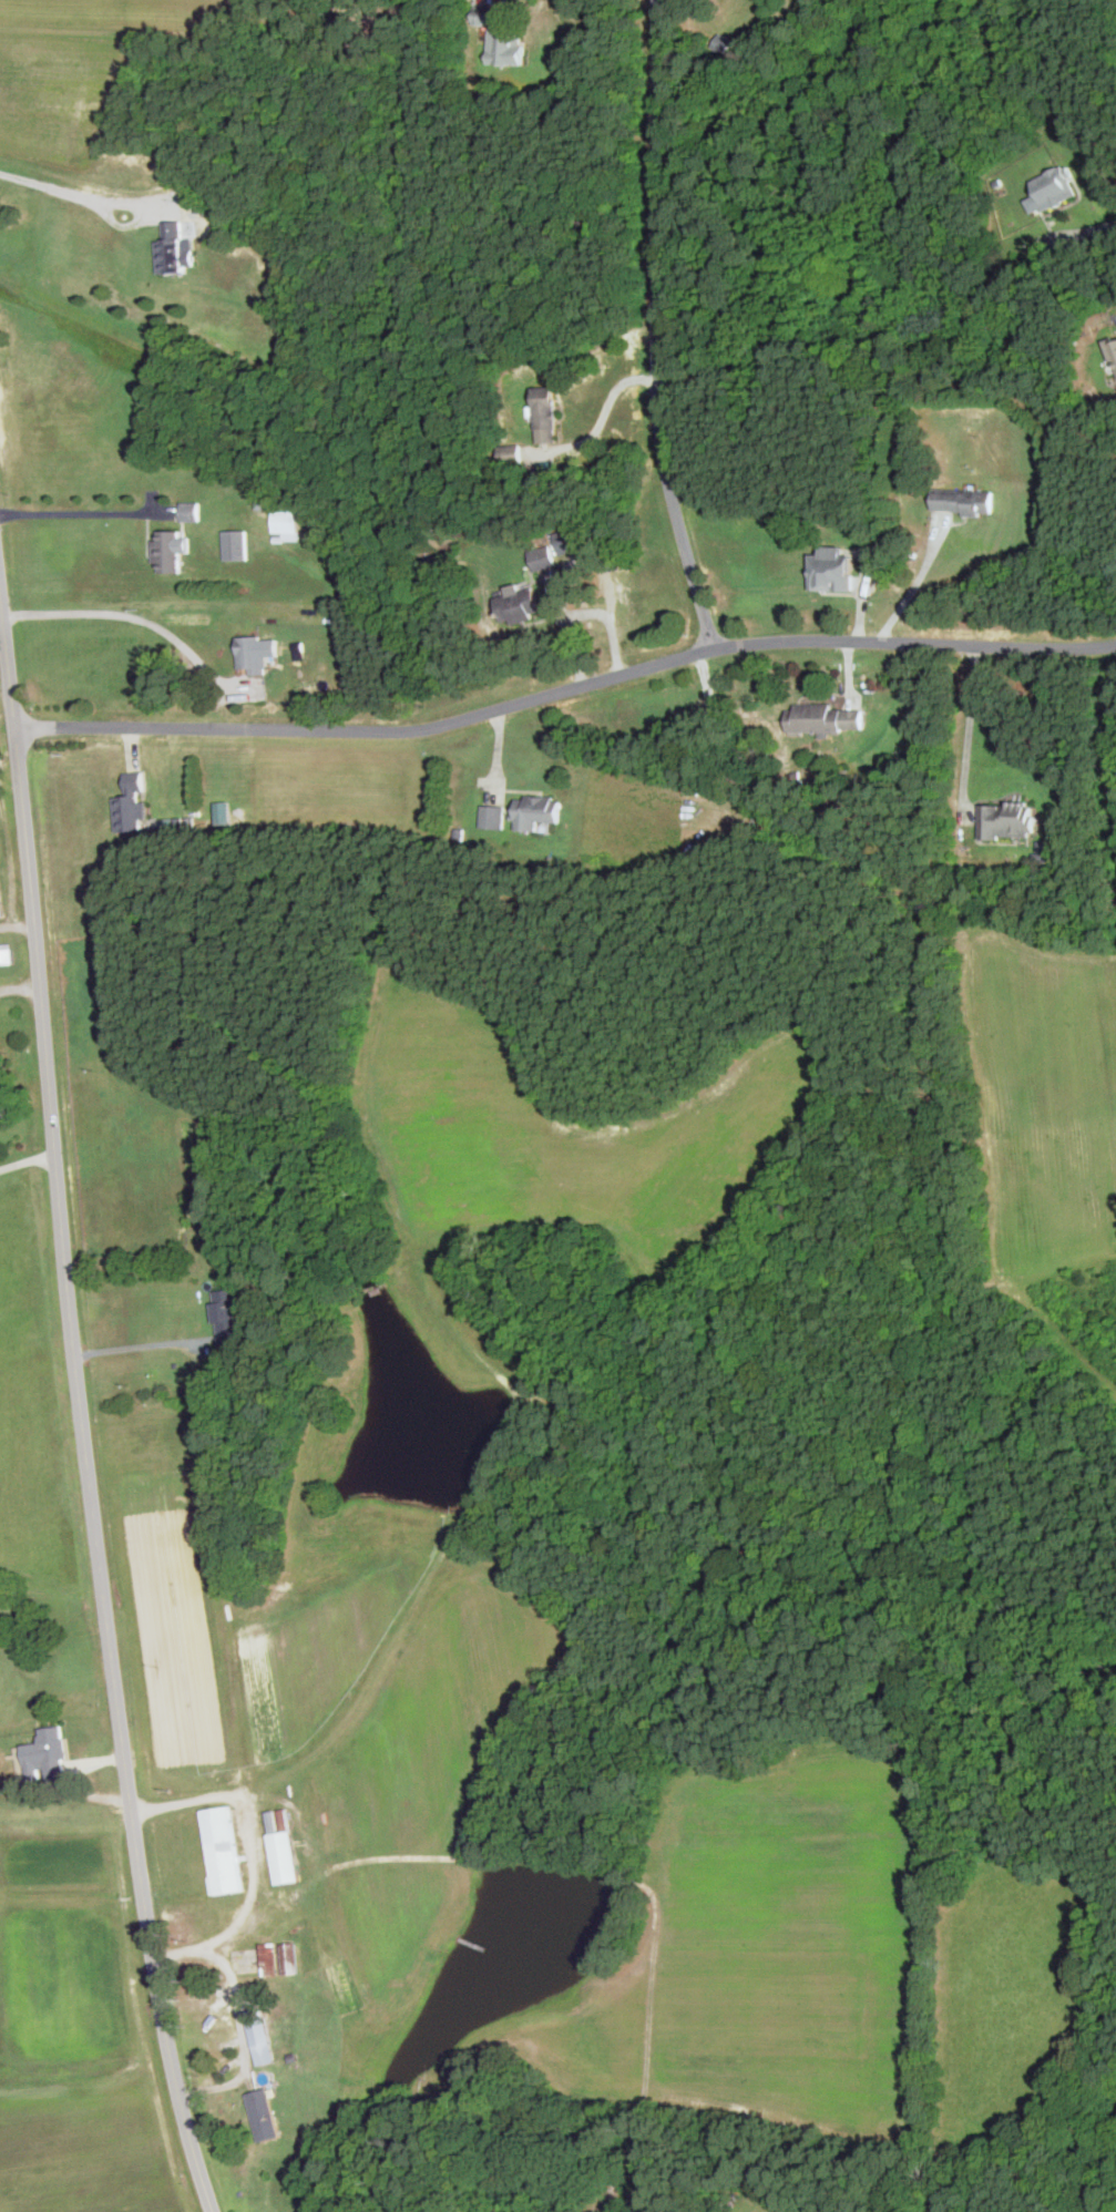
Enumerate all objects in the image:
building: (502, 37)
building: (1054, 187)
road: (71, 188)
road: (1082, 231)
building: (174, 248)
road: (666, 327)
building: (1113, 347)
road: (1115, 395)
building: (546, 412)
building: (512, 453)
building: (964, 501)
building: (191, 510)
road: (79, 511)
building: (287, 520)
building: (572, 539)
building: (235, 544)
building: (171, 549)
building: (543, 557)
building: (832, 567)
road: (915, 580)
building: (520, 605)
road: (122, 607)
road: (608, 622)
building: (252, 653)
road: (565, 689)
building: (826, 718)
road: (972, 725)
building: (130, 803)
building: (537, 811)
building: (494, 816)
building: (1010, 820)
building: (1, 901)
building: (7, 954)
building: (188, 1133)
road: (27, 1154)
building: (229, 1317)
road: (132, 1345)
road: (80, 1407)
building: (48, 1755)
building: (222, 1850)
road: (252, 1852)
building: (285, 1857)
building: (290, 1958)
building: (270, 1959)
road: (244, 2035)
building: (262, 2039)
building: (265, 2113)

